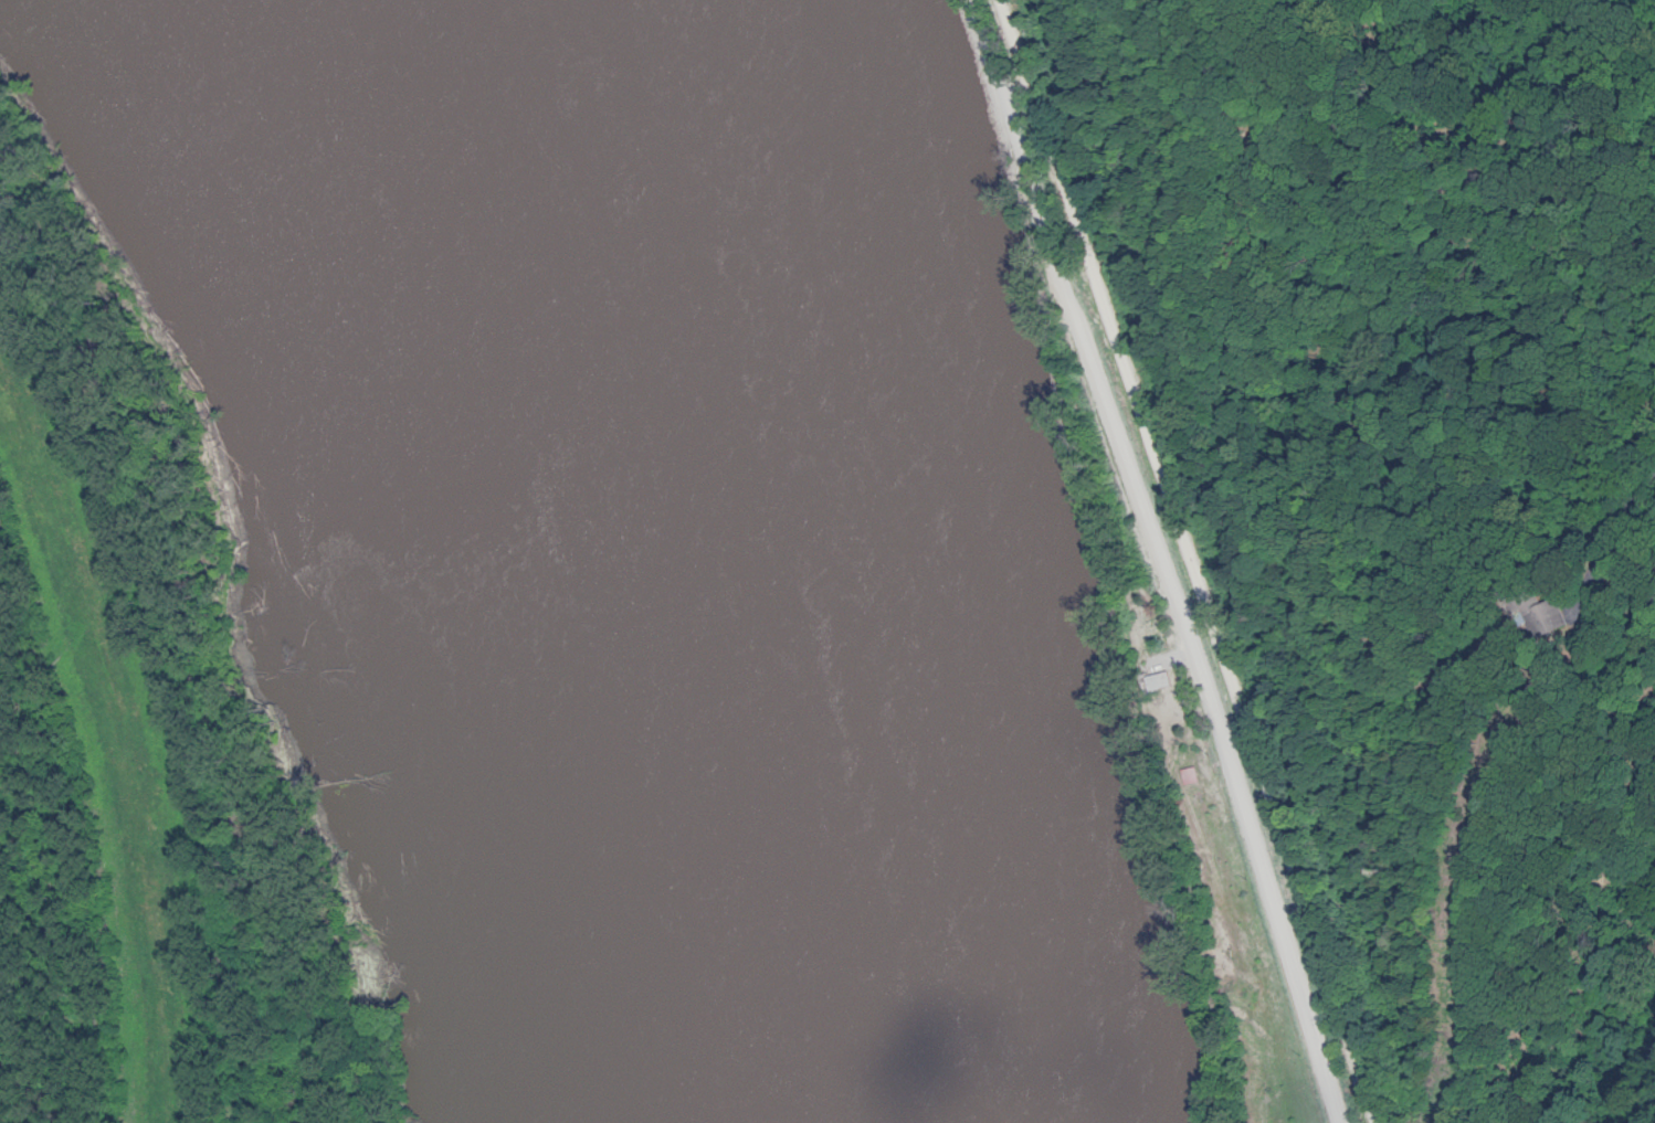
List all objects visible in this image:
road: (1623, 550)
road: (1157, 559)
river: (781, 561)
road: (1183, 561)
building: (1564, 615)
building: (1157, 681)
road: (2, 808)

